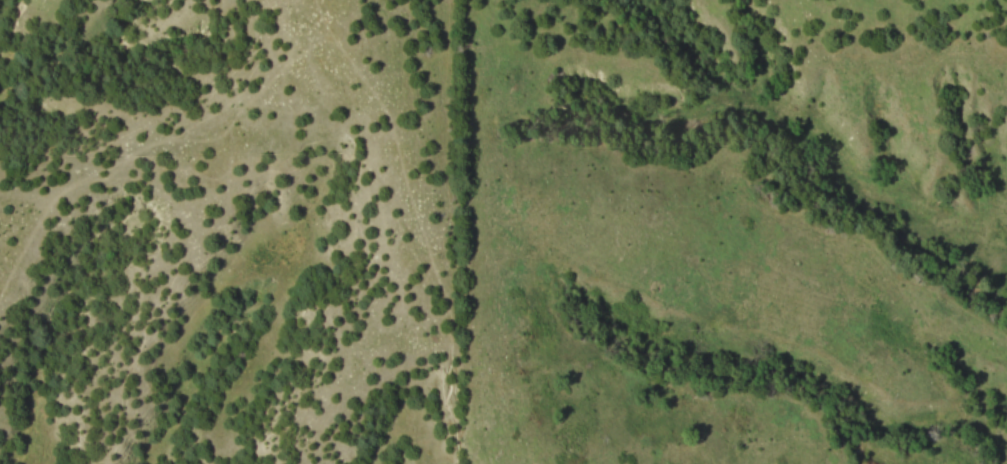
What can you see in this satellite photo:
road: (327, 19)
road: (305, 31)
road: (225, 185)
crop: (225, 232)
road: (421, 245)

